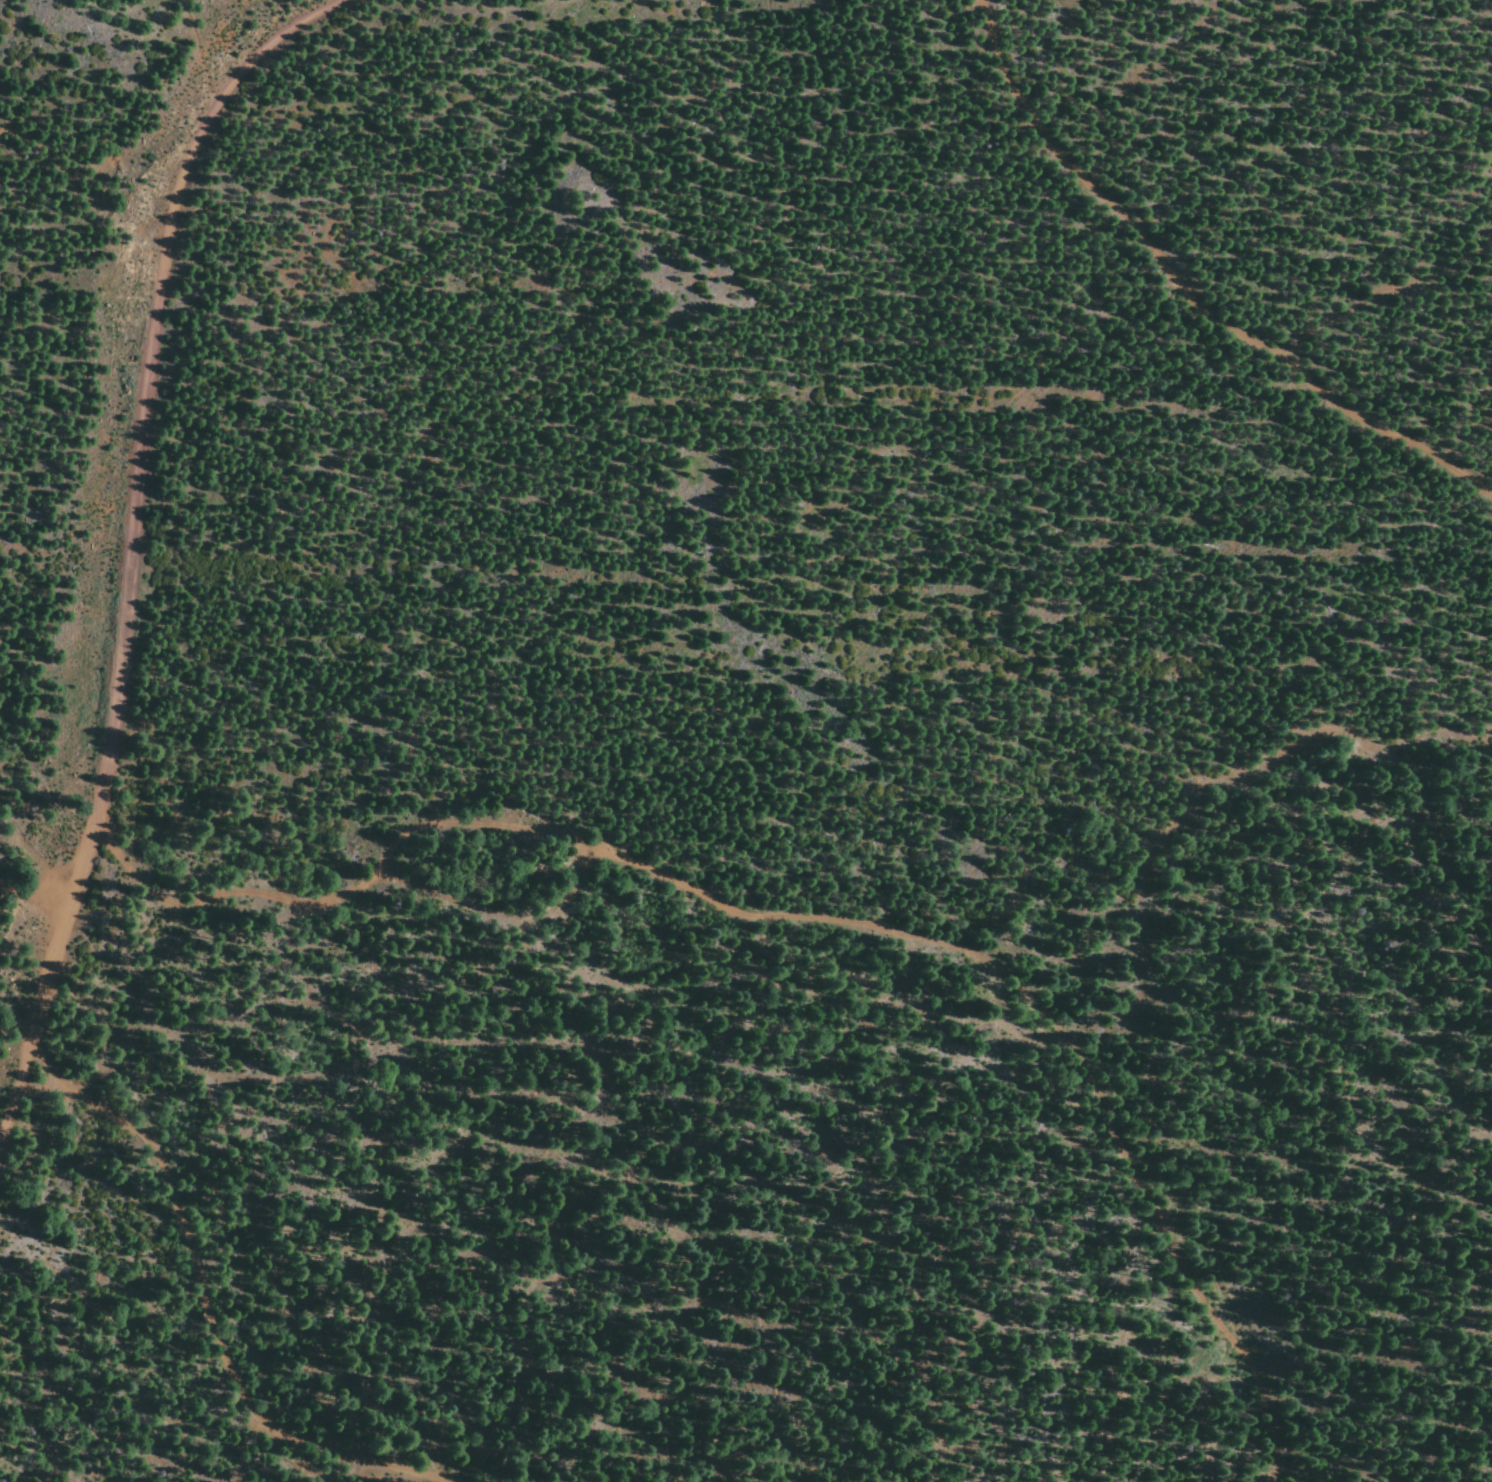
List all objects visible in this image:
road: (129, 550)

